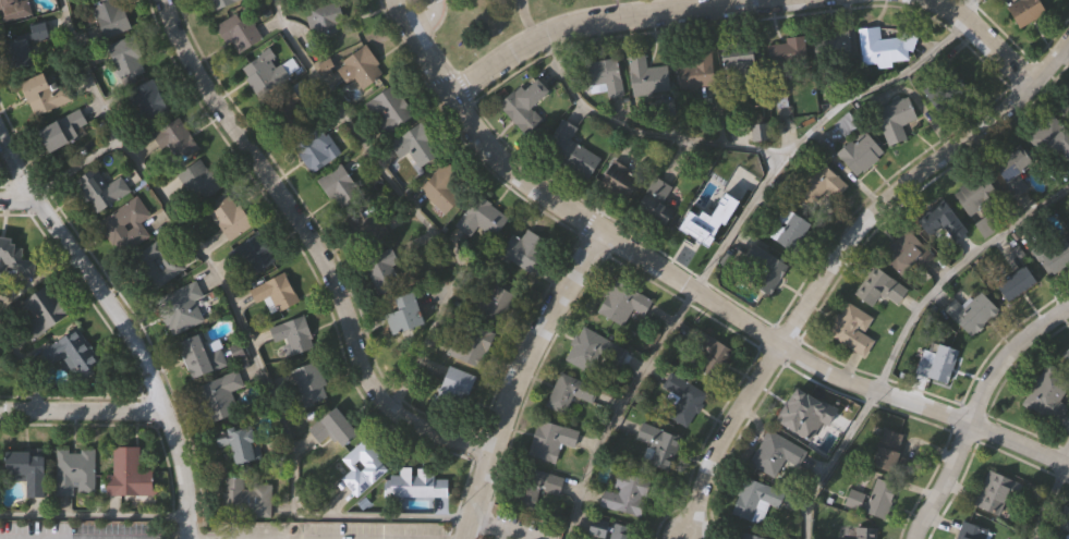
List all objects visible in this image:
road: (969, 1)
building: (222, 2)
building: (15, 9)
building: (1025, 12)
building: (113, 15)
building: (329, 16)
road: (425, 19)
road: (593, 19)
building: (40, 30)
building: (241, 30)
road: (984, 38)
building: (835, 47)
building: (883, 47)
building: (20, 51)
building: (789, 51)
building: (129, 54)
building: (741, 57)
building: (365, 68)
building: (697, 68)
building: (606, 75)
building: (648, 75)
building: (945, 91)
building: (48, 93)
building: (150, 100)
building: (527, 103)
building: (1065, 106)
building: (290, 107)
building: (391, 108)
building: (896, 113)
building: (848, 123)
building: (65, 130)
road: (637, 135)
building: (1050, 139)
building: (178, 142)
building: (417, 146)
building: (312, 147)
building: (572, 149)
building: (862, 151)
building: (1011, 169)
road: (909, 174)
building: (205, 181)
building: (622, 182)
building: (822, 183)
building: (341, 186)
building: (447, 186)
building: (104, 191)
building: (975, 193)
road: (15, 197)
road: (406, 203)
building: (658, 204)
building: (231, 216)
building: (483, 216)
building: (127, 225)
building: (942, 225)
building: (795, 231)
building: (697, 234)
road: (730, 236)
road: (314, 244)
building: (525, 248)
building: (255, 252)
building: (904, 253)
building: (378, 254)
building: (1053, 256)
building: (15, 258)
building: (158, 262)
building: (768, 271)
building: (1013, 283)
road: (689, 287)
building: (878, 287)
building: (278, 291)
building: (495, 301)
building: (623, 304)
building: (182, 306)
building: (46, 309)
building: (969, 311)
building: (406, 314)
road: (241, 323)
road: (121, 327)
building: (851, 328)
building: (295, 333)
road: (902, 335)
building: (472, 343)
building: (73, 351)
building: (593, 351)
building: (712, 354)
building: (1067, 354)
building: (203, 355)
building: (1067, 357)
building: (935, 360)
road: (25, 368)
road: (513, 377)
building: (311, 382)
building: (455, 388)
building: (570, 390)
building: (1047, 392)
building: (221, 395)
building: (685, 399)
road: (971, 407)
road: (80, 409)
building: (800, 411)
building: (336, 426)
road: (720, 436)
building: (552, 439)
building: (244, 444)
building: (661, 446)
building: (887, 448)
building: (775, 452)
building: (364, 466)
building: (29, 469)
building: (75, 469)
building: (130, 471)
building: (417, 482)
building: (535, 486)
building: (993, 491)
building: (628, 493)
road: (1050, 497)
building: (246, 498)
building: (872, 498)
building: (755, 499)
building: (1062, 517)
road: (93, 518)
road: (489, 526)
building: (971, 531)
building: (861, 532)
building: (620, 535)
building: (750, 536)
building: (1068, 538)

